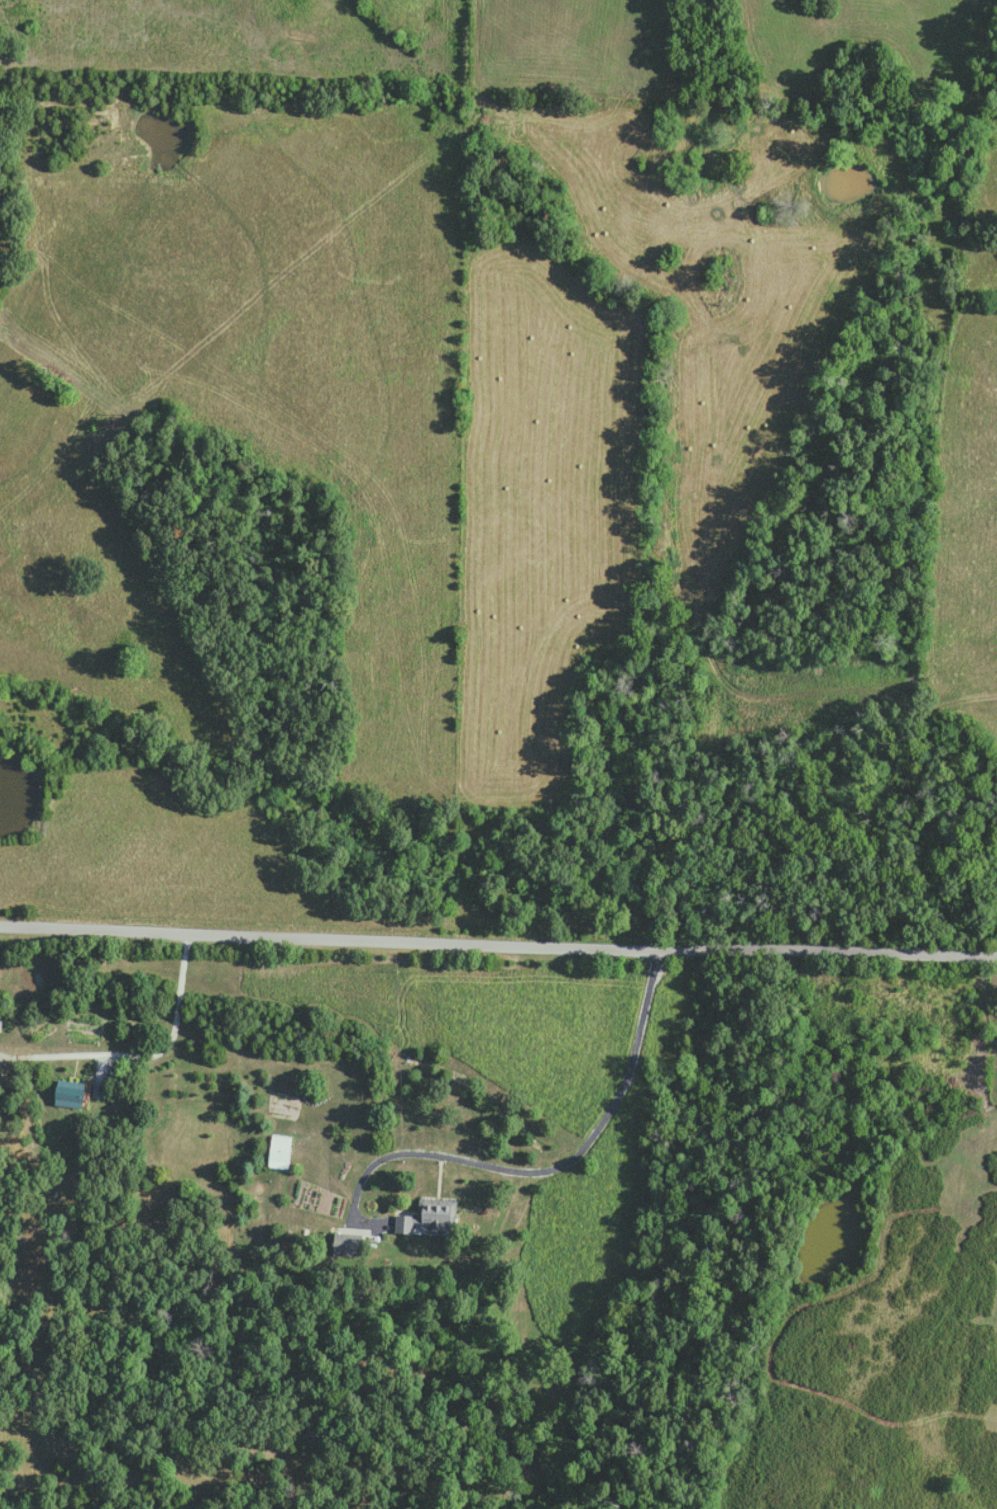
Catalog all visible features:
airport runway: (623, 41)
road: (498, 940)
road: (148, 1051)
building: (70, 1092)
building: (280, 1147)
road: (538, 1166)
building: (430, 1215)

